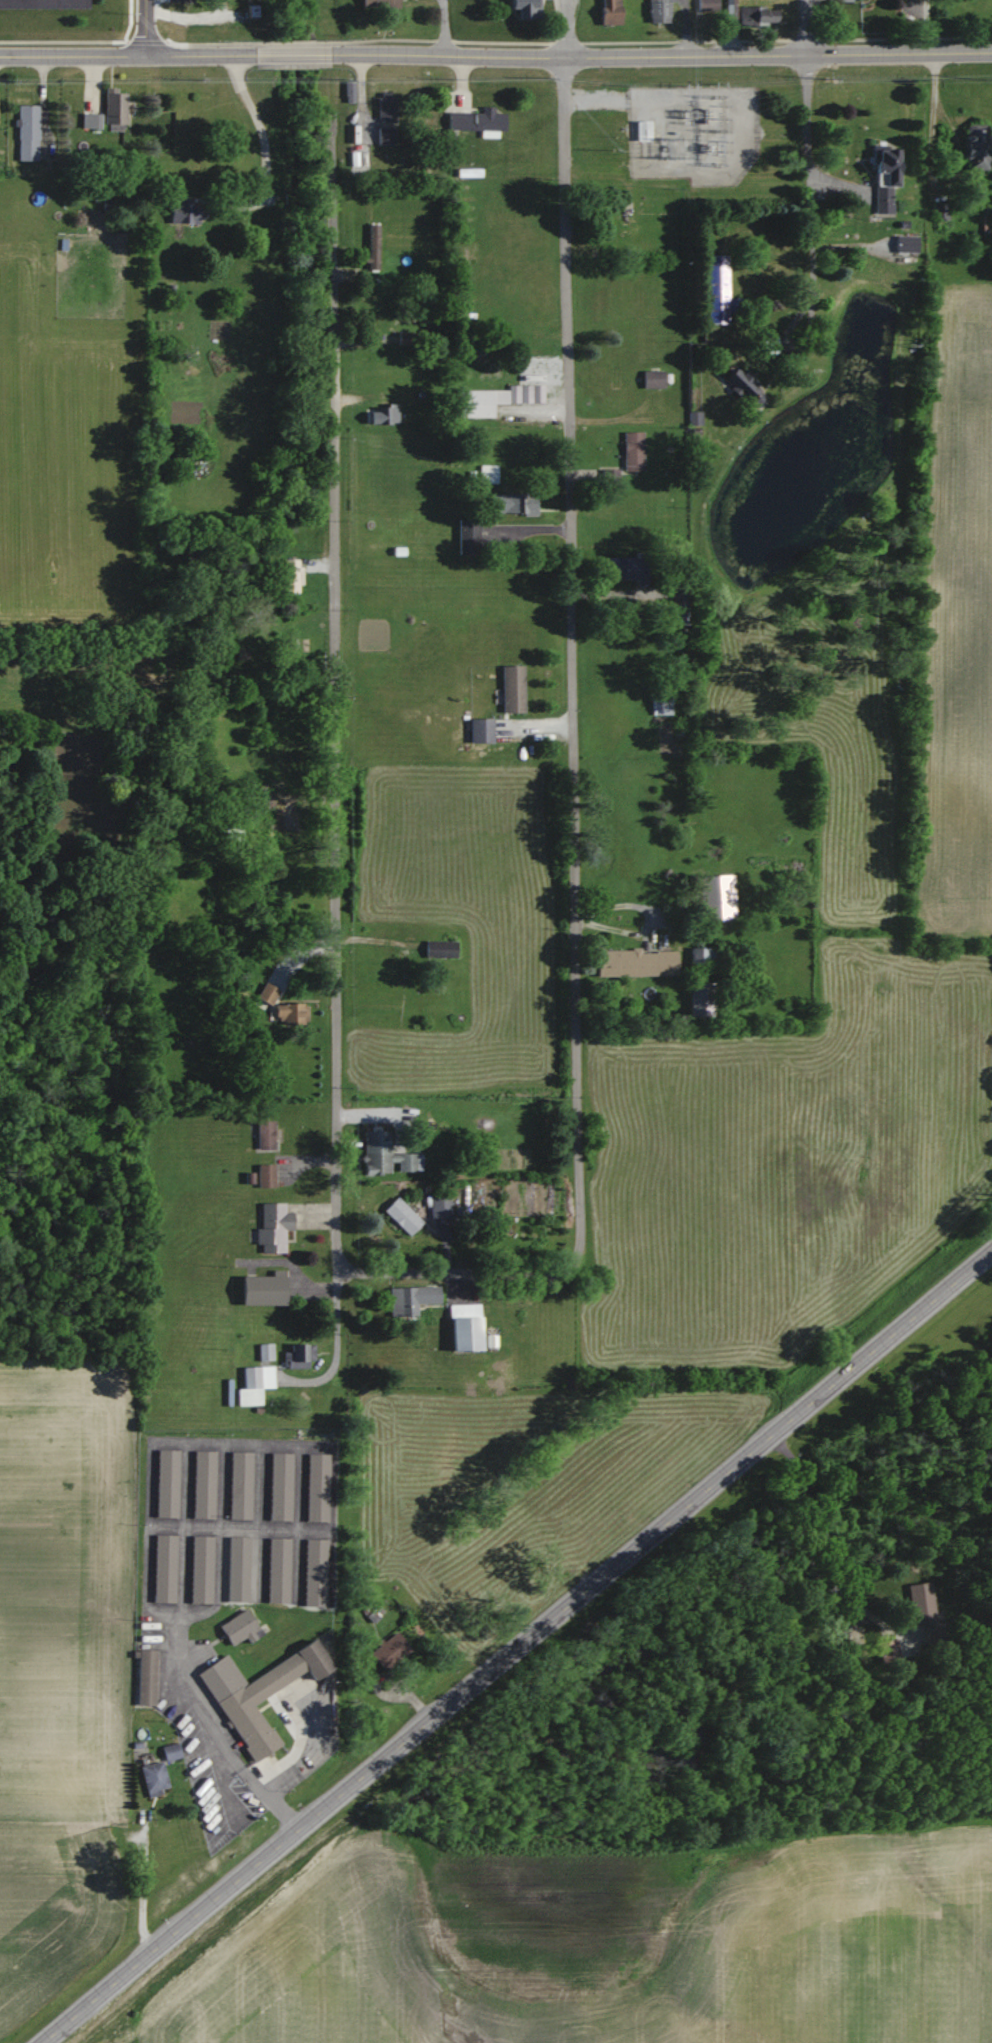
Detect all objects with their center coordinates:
building: (378, 3)
building: (41, 4)
building: (706, 5)
building: (524, 9)
building: (658, 11)
building: (609, 12)
building: (756, 16)
road: (925, 26)
road: (145, 27)
road: (442, 27)
road: (683, 27)
road: (805, 27)
road: (565, 28)
road: (293, 54)
road: (127, 55)
road: (661, 55)
road: (617, 98)
road: (804, 101)
building: (385, 107)
building: (113, 109)
building: (89, 121)
building: (475, 121)
building: (641, 130)
building: (28, 131)
power substation: (693, 131)
building: (385, 134)
road: (261, 135)
building: (975, 148)
road: (931, 171)
building: (883, 178)
building: (182, 210)
building: (905, 243)
building: (372, 247)
building: (716, 288)
building: (406, 338)
building: (652, 378)
building: (742, 387)
building: (478, 401)
building: (384, 413)
building: (632, 451)
building: (487, 473)
building: (512, 503)
building: (467, 535)
building: (627, 568)
building: (290, 576)
building: (680, 600)
road: (570, 657)
building: (511, 687)
building: (661, 706)
building: (480, 729)
road: (335, 743)
building: (230, 834)
building: (715, 897)
building: (439, 948)
building: (704, 955)
building: (636, 963)
building: (699, 998)
building: (289, 1012)
building: (264, 1134)
building: (387, 1162)
building: (265, 1175)
building: (439, 1205)
building: (401, 1216)
building: (272, 1227)
road: (460, 1272)
building: (410, 1299)
building: (463, 1328)
building: (264, 1352)
building: (297, 1356)
building: (253, 1384)
road: (153, 1446)
building: (165, 1484)
building: (202, 1484)
building: (238, 1485)
building: (279, 1486)
building: (315, 1487)
road: (803, 1540)
building: (162, 1568)
building: (199, 1569)
building: (276, 1570)
building: (313, 1572)
building: (921, 1609)
building: (239, 1627)
road: (519, 1647)
building: (389, 1651)
building: (887, 1651)
building: (144, 1677)
building: (234, 1701)
building: (170, 1751)
building: (153, 1779)

